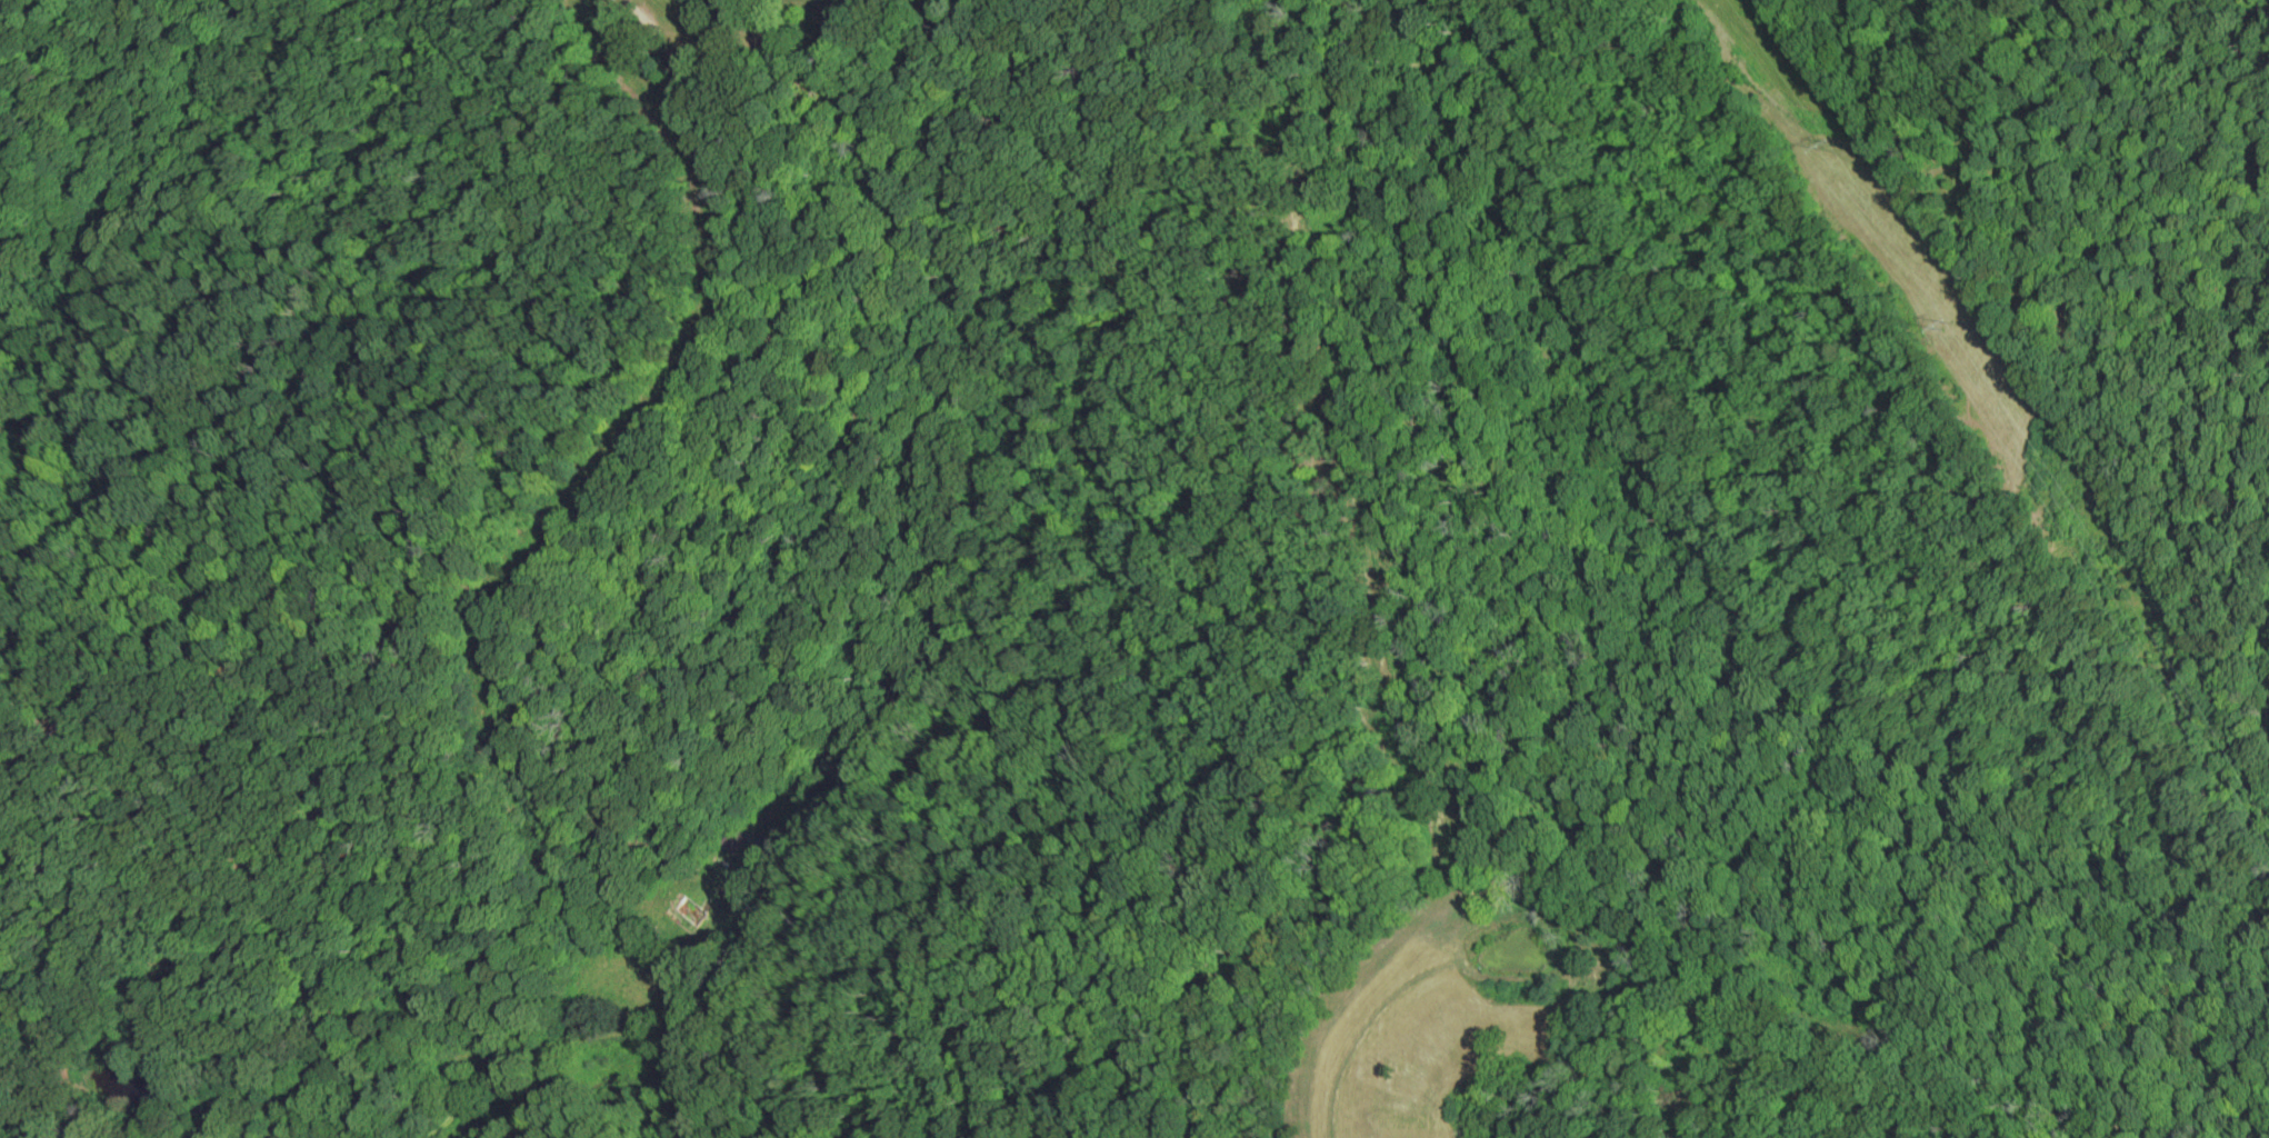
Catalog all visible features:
road: (1300, 1040)

